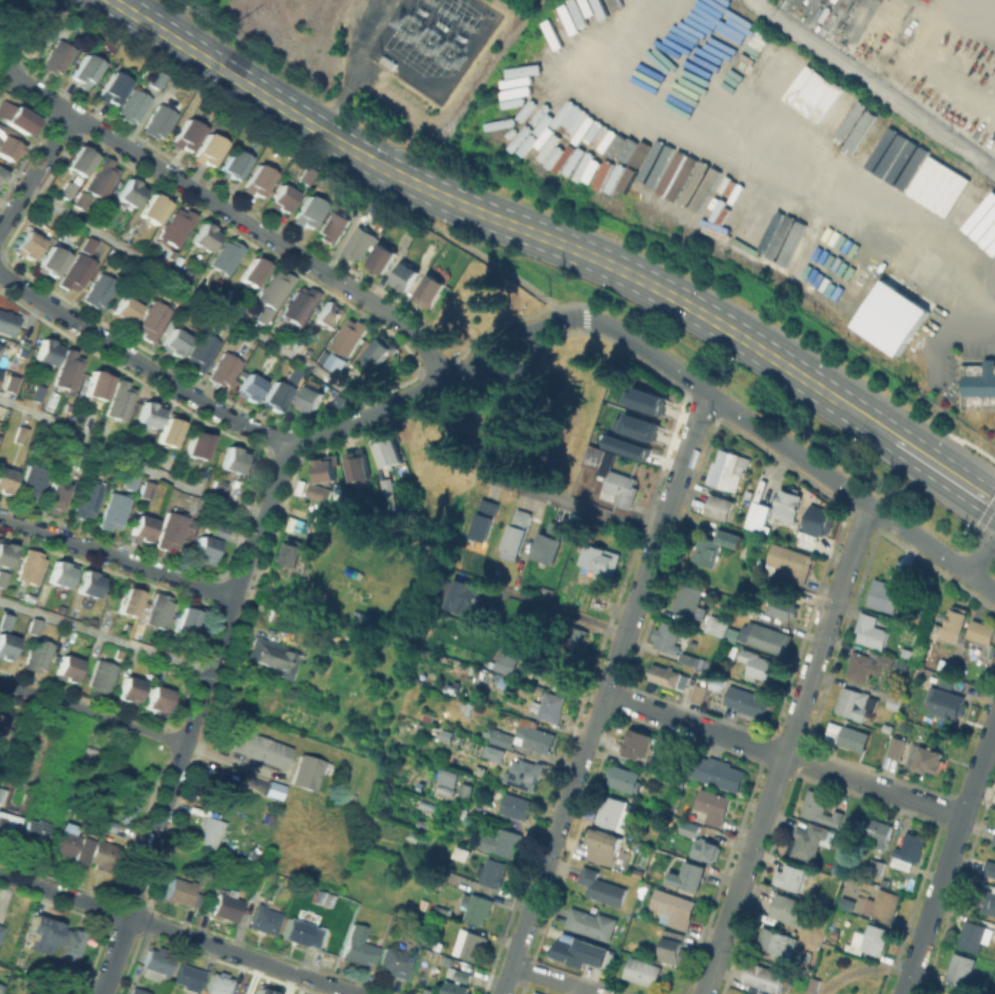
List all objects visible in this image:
building: (698, 0)
building: (710, 8)
building: (56, 16)
building: (733, 19)
building: (95, 37)
power substation: (433, 42)
building: (30, 43)
building: (386, 60)
building: (56, 61)
road: (359, 65)
building: (84, 74)
building: (156, 83)
road: (247, 84)
building: (804, 86)
road: (874, 86)
building: (112, 91)
building: (134, 110)
building: (17, 120)
building: (848, 121)
building: (159, 126)
building: (186, 139)
building: (9, 153)
building: (209, 153)
building: (80, 165)
building: (234, 170)
building: (1, 171)
road: (36, 173)
road: (818, 175)
building: (1, 178)
building: (306, 179)
building: (101, 181)
building: (257, 186)
building: (67, 193)
building: (129, 196)
building: (281, 201)
building: (81, 203)
building: (154, 213)
road: (236, 215)
building: (308, 216)
building: (334, 229)
building: (175, 231)
building: (784, 239)
building: (204, 241)
building: (359, 246)
building: (87, 248)
road: (472, 248)
building: (27, 249)
building: (227, 259)
building: (382, 262)
building: (51, 266)
building: (254, 274)
building: (76, 276)
building: (407, 279)
building: (276, 292)
building: (99, 294)
building: (430, 294)
road: (202, 297)
building: (299, 308)
road: (700, 312)
building: (124, 314)
road: (569, 315)
building: (889, 317)
building: (263, 319)
building: (328, 320)
road: (553, 321)
building: (153, 323)
building: (6, 326)
road: (500, 334)
road: (530, 335)
building: (349, 340)
building: (899, 345)
building: (173, 347)
building: (202, 354)
building: (380, 355)
building: (45, 356)
road: (470, 359)
road: (485, 359)
building: (330, 360)
road: (139, 363)
road: (517, 366)
road: (475, 370)
building: (69, 373)
building: (223, 373)
road: (450, 374)
building: (292, 379)
building: (11, 386)
building: (980, 387)
building: (96, 390)
building: (249, 391)
building: (37, 396)
building: (646, 400)
building: (275, 401)
building: (310, 404)
building: (120, 405)
road: (366, 414)
building: (148, 419)
building: (90, 421)
building: (635, 425)
building: (169, 435)
building: (21, 438)
road: (487, 439)
building: (625, 446)
building: (197, 450)
road: (792, 450)
building: (81, 456)
building: (388, 458)
road: (130, 459)
building: (234, 464)
building: (322, 468)
building: (728, 468)
building: (92, 470)
building: (357, 471)
building: (612, 476)
building: (4, 485)
building: (131, 485)
building: (220, 486)
building: (31, 487)
building: (389, 490)
building: (147, 492)
building: (316, 492)
building: (747, 497)
building: (54, 501)
building: (786, 501)
building: (86, 502)
road: (569, 504)
building: (720, 506)
building: (115, 514)
building: (759, 515)
building: (816, 518)
building: (484, 519)
building: (517, 530)
building: (142, 534)
building: (172, 534)
building: (219, 534)
building: (553, 541)
building: (717, 545)
building: (744, 549)
building: (291, 553)
building: (204, 554)
road: (982, 556)
road: (117, 557)
building: (601, 558)
building: (5, 560)
building: (791, 563)
building: (30, 570)
building: (60, 579)
building: (516, 581)
building: (2, 583)
building: (88, 589)
building: (885, 594)
building: (689, 598)
building: (470, 601)
building: (597, 602)
building: (128, 606)
building: (784, 606)
road: (564, 609)
building: (701, 611)
building: (159, 615)
building: (547, 615)
building: (955, 622)
building: (6, 625)
building: (716, 625)
building: (186, 626)
building: (34, 630)
building: (871, 630)
road: (106, 635)
building: (669, 636)
building: (983, 636)
building: (575, 639)
building: (768, 640)
building: (5, 651)
building: (732, 652)
building: (273, 657)
building: (37, 658)
building: (692, 658)
building: (506, 662)
building: (759, 664)
building: (868, 664)
building: (945, 664)
building: (898, 666)
building: (565, 671)
building: (67, 674)
building: (668, 675)
building: (101, 679)
building: (946, 679)
building: (715, 685)
road: (8, 686)
road: (26, 690)
road: (604, 692)
building: (699, 692)
building: (130, 694)
building: (157, 698)
building: (747, 700)
building: (895, 701)
building: (856, 702)
building: (946, 702)
building: (550, 706)
road: (196, 716)
building: (428, 716)
road: (111, 717)
building: (2, 724)
building: (848, 735)
building: (445, 736)
building: (526, 736)
road: (987, 743)
building: (896, 746)
road: (786, 749)
building: (639, 750)
building: (494, 752)
building: (262, 754)
road: (782, 756)
building: (929, 759)
building: (481, 769)
building: (715, 772)
building: (524, 773)
building: (307, 777)
building: (446, 777)
building: (625, 777)
building: (224, 790)
road: (971, 791)
building: (2, 794)
building: (466, 794)
building: (517, 806)
building: (712, 807)
building: (820, 807)
building: (613, 813)
building: (8, 824)
building: (107, 824)
building: (690, 828)
building: (35, 832)
building: (210, 832)
building: (877, 838)
building: (993, 839)
building: (807, 841)
building: (68, 843)
building: (499, 845)
building: (908, 850)
building: (604, 853)
building: (705, 855)
building: (106, 856)
building: (876, 866)
building: (990, 867)
building: (494, 871)
building: (795, 878)
building: (693, 884)
building: (601, 891)
building: (183, 892)
road: (936, 894)
building: (330, 898)
building: (986, 898)
building: (882, 903)
building: (228, 904)
building: (674, 907)
building: (479, 908)
building: (792, 916)
building: (265, 920)
building: (592, 923)
building: (46, 928)
building: (2, 930)
building: (307, 932)
road: (177, 933)
building: (974, 935)
building: (774, 938)
building: (869, 939)
building: (469, 942)
building: (438, 944)
building: (70, 945)
building: (673, 946)
building: (360, 950)
building: (581, 952)
building: (396, 962)
building: (158, 964)
building: (961, 968)
building: (642, 971)
building: (190, 976)
road: (556, 979)
building: (762, 979)
building: (461, 980)
building: (220, 983)
road: (906, 983)
building: (811, 984)
building: (1, 987)
building: (140, 991)
building: (260, 992)
building: (539, 992)
building: (53, 993)
building: (534, 993)

